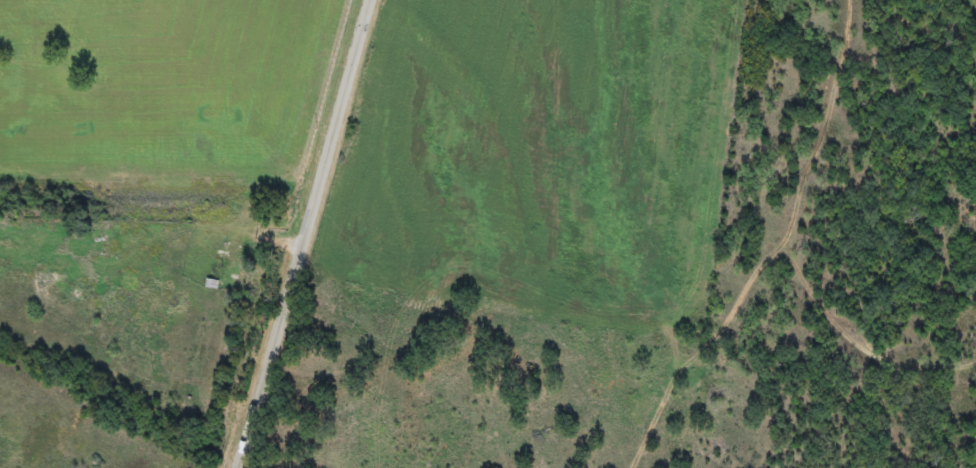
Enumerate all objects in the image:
road: (311, 234)

